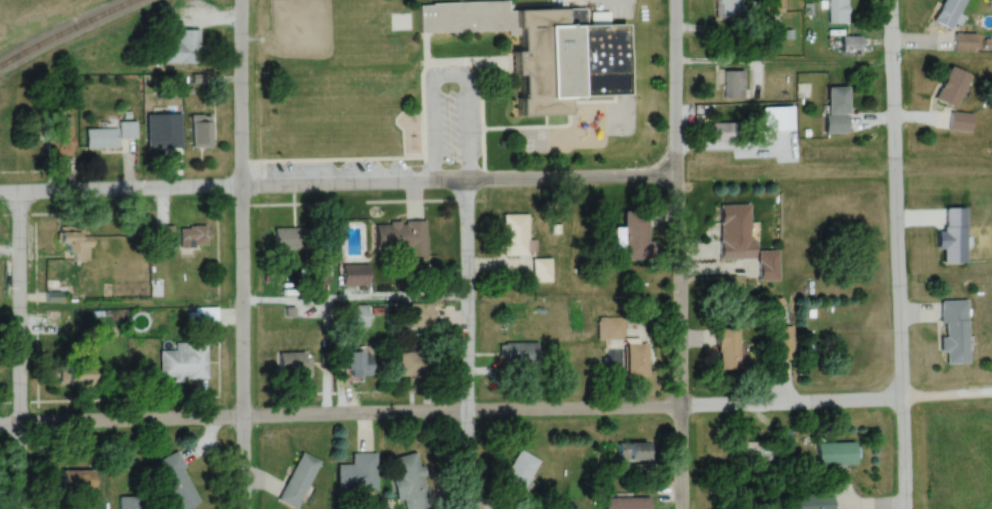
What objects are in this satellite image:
building: (732, 3)
building: (836, 11)
building: (947, 12)
railway: (66, 30)
building: (965, 42)
building: (851, 44)
building: (184, 48)
building: (545, 48)
road: (778, 65)
building: (733, 84)
building: (952, 86)
building: (837, 109)
building: (781, 118)
building: (961, 121)
building: (201, 131)
building: (721, 131)
building: (109, 135)
building: (59, 136)
building: (161, 136)
road: (337, 183)
building: (735, 232)
building: (635, 234)
building: (514, 235)
building: (163, 236)
building: (193, 236)
building: (401, 237)
building: (289, 239)
building: (76, 241)
road: (234, 254)
road: (677, 254)
road: (889, 254)
building: (768, 266)
building: (541, 271)
building: (316, 274)
building: (355, 275)
building: (775, 305)
road: (339, 306)
building: (420, 315)
building: (354, 316)
building: (205, 317)
building: (610, 325)
building: (954, 328)
building: (781, 342)
road: (464, 344)
building: (728, 348)
road: (17, 350)
building: (519, 354)
building: (636, 360)
building: (183, 362)
building: (291, 363)
building: (357, 363)
building: (412, 364)
building: (80, 378)
road: (496, 411)
building: (759, 449)
building: (634, 450)
building: (838, 453)
building: (357, 473)
building: (518, 473)
building: (77, 479)
building: (298, 480)
building: (408, 481)
building: (175, 482)
building: (807, 501)
building: (131, 502)
building: (626, 503)

